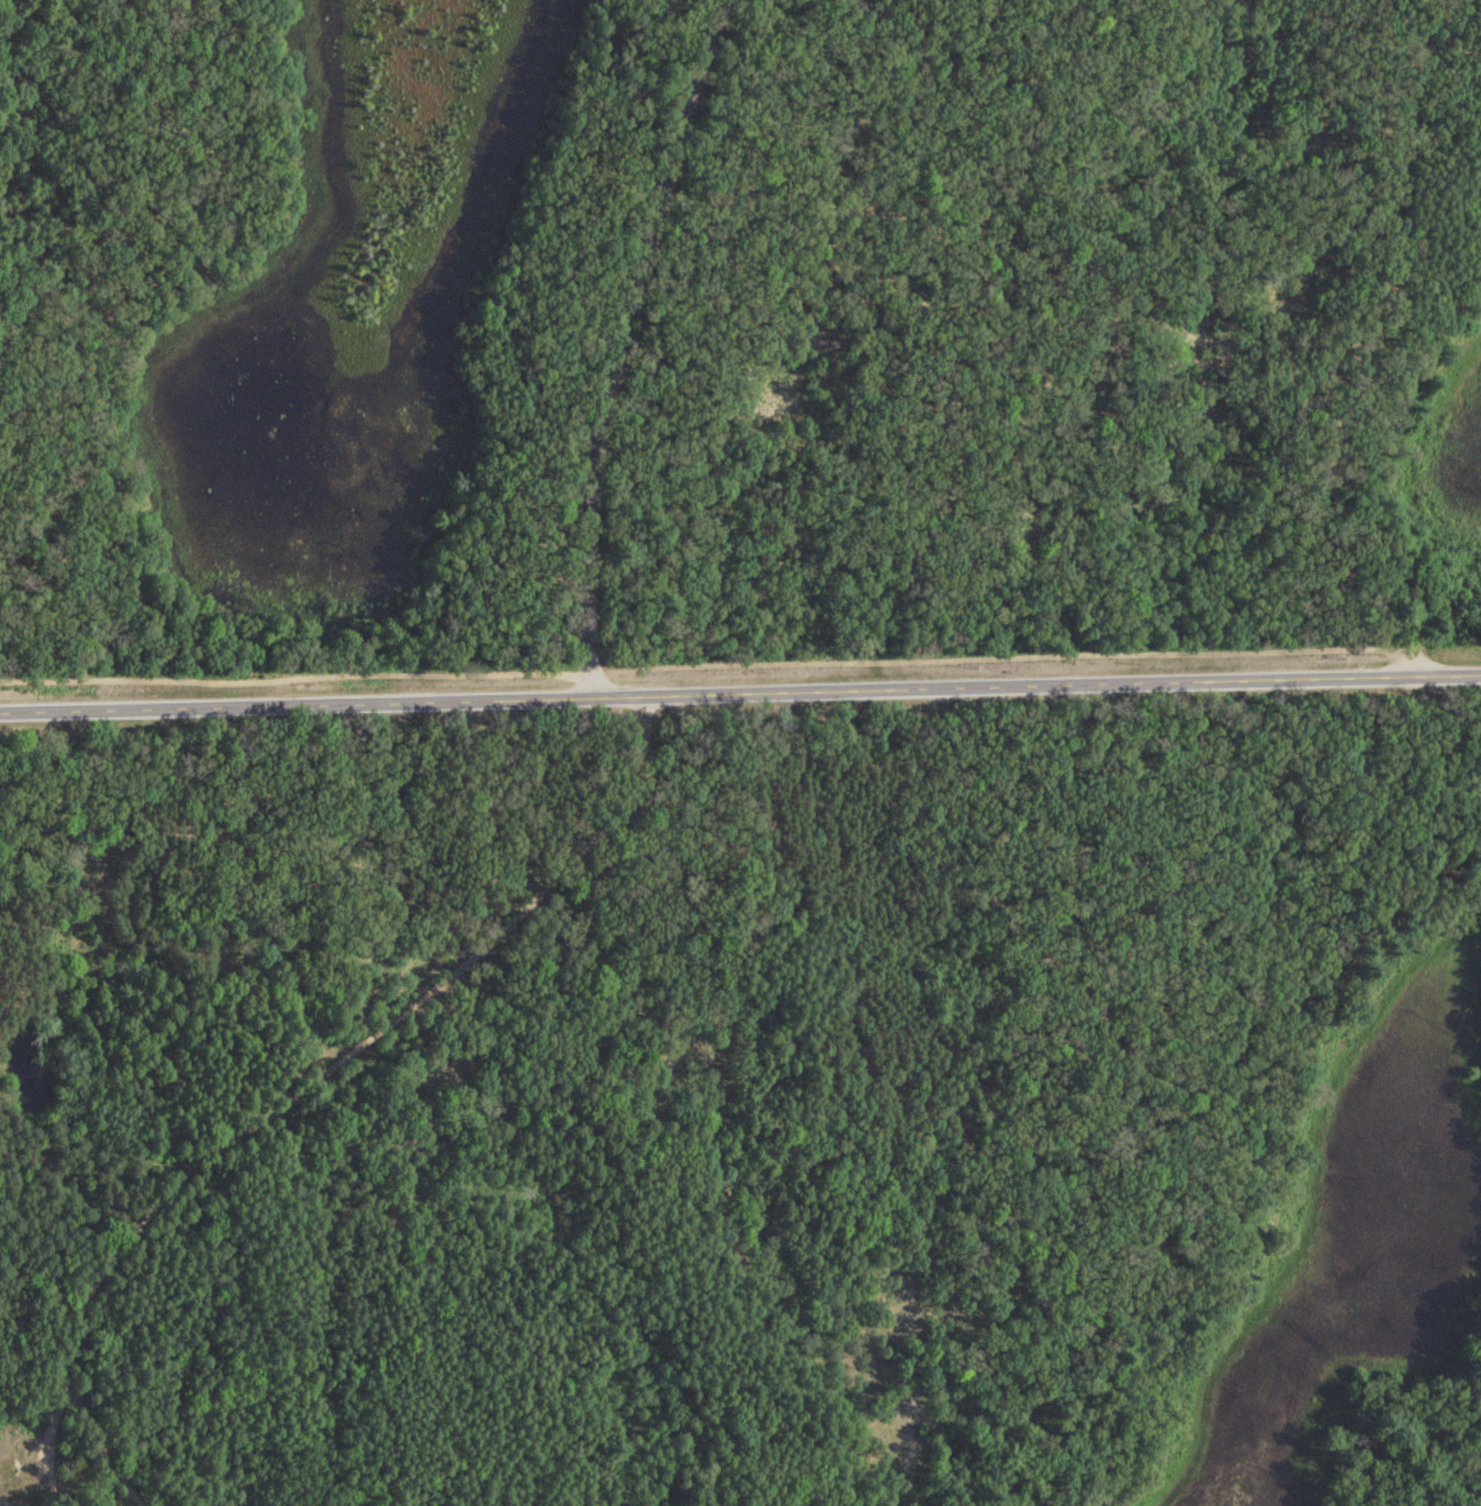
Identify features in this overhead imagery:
road: (556, 320)
road: (618, 342)
road: (1347, 349)
road: (740, 692)
road: (1013, 941)
road: (319, 1080)
road: (98, 1440)

